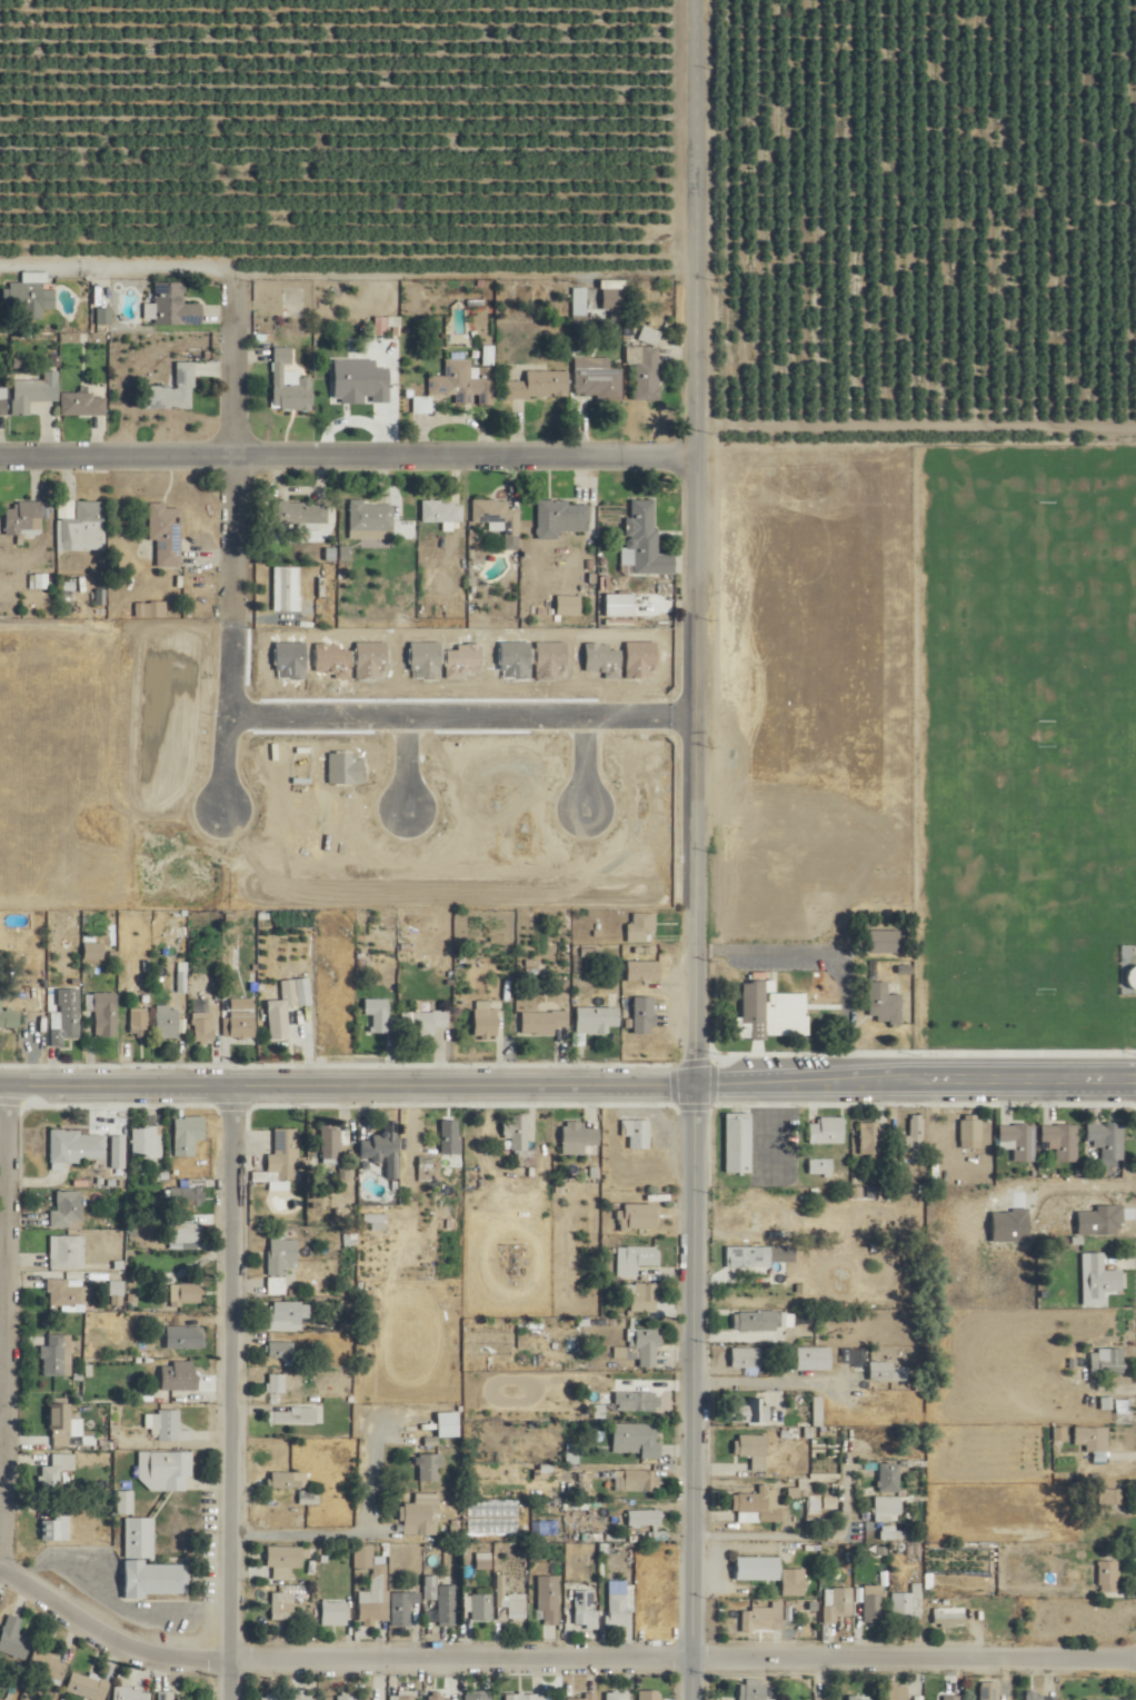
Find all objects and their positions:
crop: (577, 83)
road: (694, 222)
road: (113, 274)
building: (102, 291)
building: (31, 295)
building: (607, 300)
building: (175, 305)
building: (646, 370)
building: (365, 380)
building: (459, 381)
building: (598, 382)
building: (289, 384)
building: (539, 385)
building: (173, 390)
building: (34, 391)
building: (82, 405)
building: (2, 407)
road: (228, 446)
road: (345, 446)
building: (442, 511)
building: (302, 514)
building: (371, 517)
building: (23, 518)
building: (499, 518)
building: (561, 518)
building: (82, 526)
building: (166, 534)
building: (645, 539)
building: (287, 589)
road: (689, 757)
building: (642, 925)
building: (884, 941)
building: (93, 951)
road: (817, 964)
building: (642, 971)
building: (179, 982)
building: (884, 1003)
building: (288, 1005)
building: (771, 1011)
building: (378, 1013)
building: (104, 1015)
building: (644, 1015)
building: (598, 1016)
building: (240, 1018)
building: (425, 1021)
building: (485, 1021)
building: (542, 1021)
building: (139, 1022)
building: (167, 1023)
building: (64, 1026)
building: (203, 1027)
road: (568, 1071)
road: (0, 1085)
building: (827, 1130)
building: (970, 1132)
building: (638, 1133)
building: (188, 1134)
building: (577, 1137)
building: (451, 1139)
building: (914, 1139)
building: (1107, 1140)
building: (148, 1141)
building: (1019, 1141)
building: (1062, 1141)
building: (738, 1142)
building: (332, 1144)
building: (520, 1144)
building: (78, 1145)
building: (388, 1149)
building: (281, 1161)
building: (820, 1167)
building: (423, 1175)
building: (183, 1197)
building: (68, 1210)
building: (638, 1216)
building: (829, 1222)
building: (186, 1233)
building: (68, 1252)
building: (748, 1257)
building: (636, 1260)
building: (281, 1264)
building: (1099, 1280)
building: (64, 1294)
building: (187, 1295)
building: (644, 1298)
building: (288, 1315)
building: (761, 1321)
building: (186, 1338)
building: (645, 1346)
building: (281, 1351)
building: (53, 1356)
building: (746, 1359)
building: (814, 1359)
building: (1107, 1361)
building: (880, 1372)
building: (179, 1375)
building: (277, 1383)
road: (687, 1384)
road: (228, 1385)
building: (637, 1401)
building: (751, 1412)
building: (818, 1412)
building: (293, 1415)
building: (59, 1421)
building: (441, 1421)
building: (168, 1425)
building: (80, 1426)
building: (1092, 1439)
building: (637, 1440)
building: (753, 1450)
building: (430, 1468)
building: (57, 1469)
building: (167, 1470)
building: (889, 1478)
building: (288, 1480)
building: (641, 1480)
building: (1110, 1499)
building: (126, 1502)
building: (758, 1505)
building: (888, 1505)
building: (421, 1515)
building: (648, 1523)
building: (58, 1527)
road: (347, 1533)
building: (895, 1533)
building: (286, 1559)
building: (149, 1563)
building: (756, 1568)
building: (1108, 1577)
building: (380, 1578)
building: (794, 1582)
building: (484, 1587)
building: (549, 1598)
building: (837, 1603)
building: (873, 1603)
building: (449, 1604)
building: (282, 1605)
building: (516, 1605)
building: (619, 1605)
building: (908, 1605)
building: (403, 1607)
building: (659, 1607)
building: (586, 1608)
building: (369, 1612)
building: (335, 1613)
building: (770, 1618)
building: (949, 1618)
building: (14, 1638)
road: (556, 1649)
building: (48, 1667)
building: (88, 1687)
building: (754, 1690)
building: (989, 1690)
building: (896, 1691)
building: (132, 1693)
building: (935, 1693)
building: (479, 1694)
building: (650, 1694)
building: (167, 1696)
building: (348, 1696)
building: (405, 1696)
building: (616, 1696)
building: (270, 1697)
building: (526, 1697)
building: (440, 1698)
building: (581, 1698)
building: (859, 1698)

